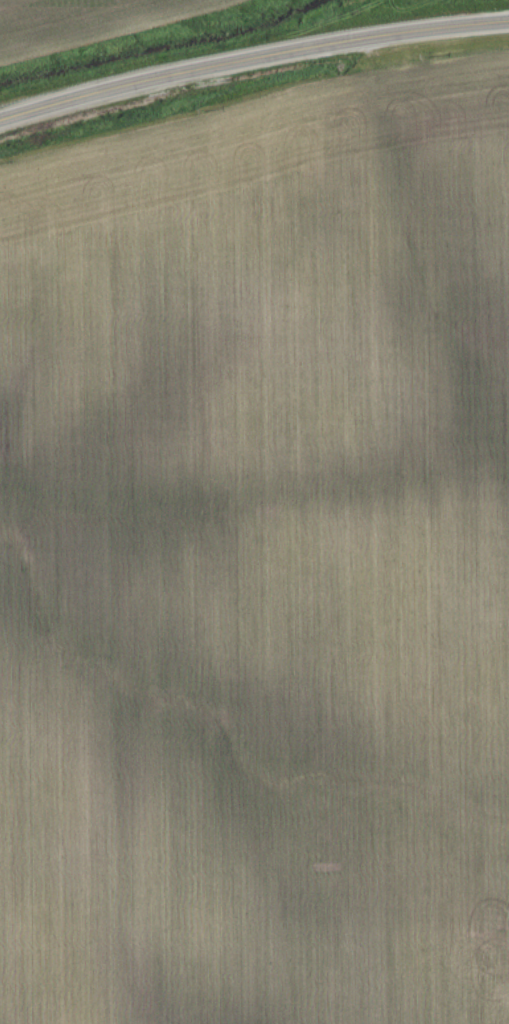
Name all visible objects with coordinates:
road: (251, 58)

